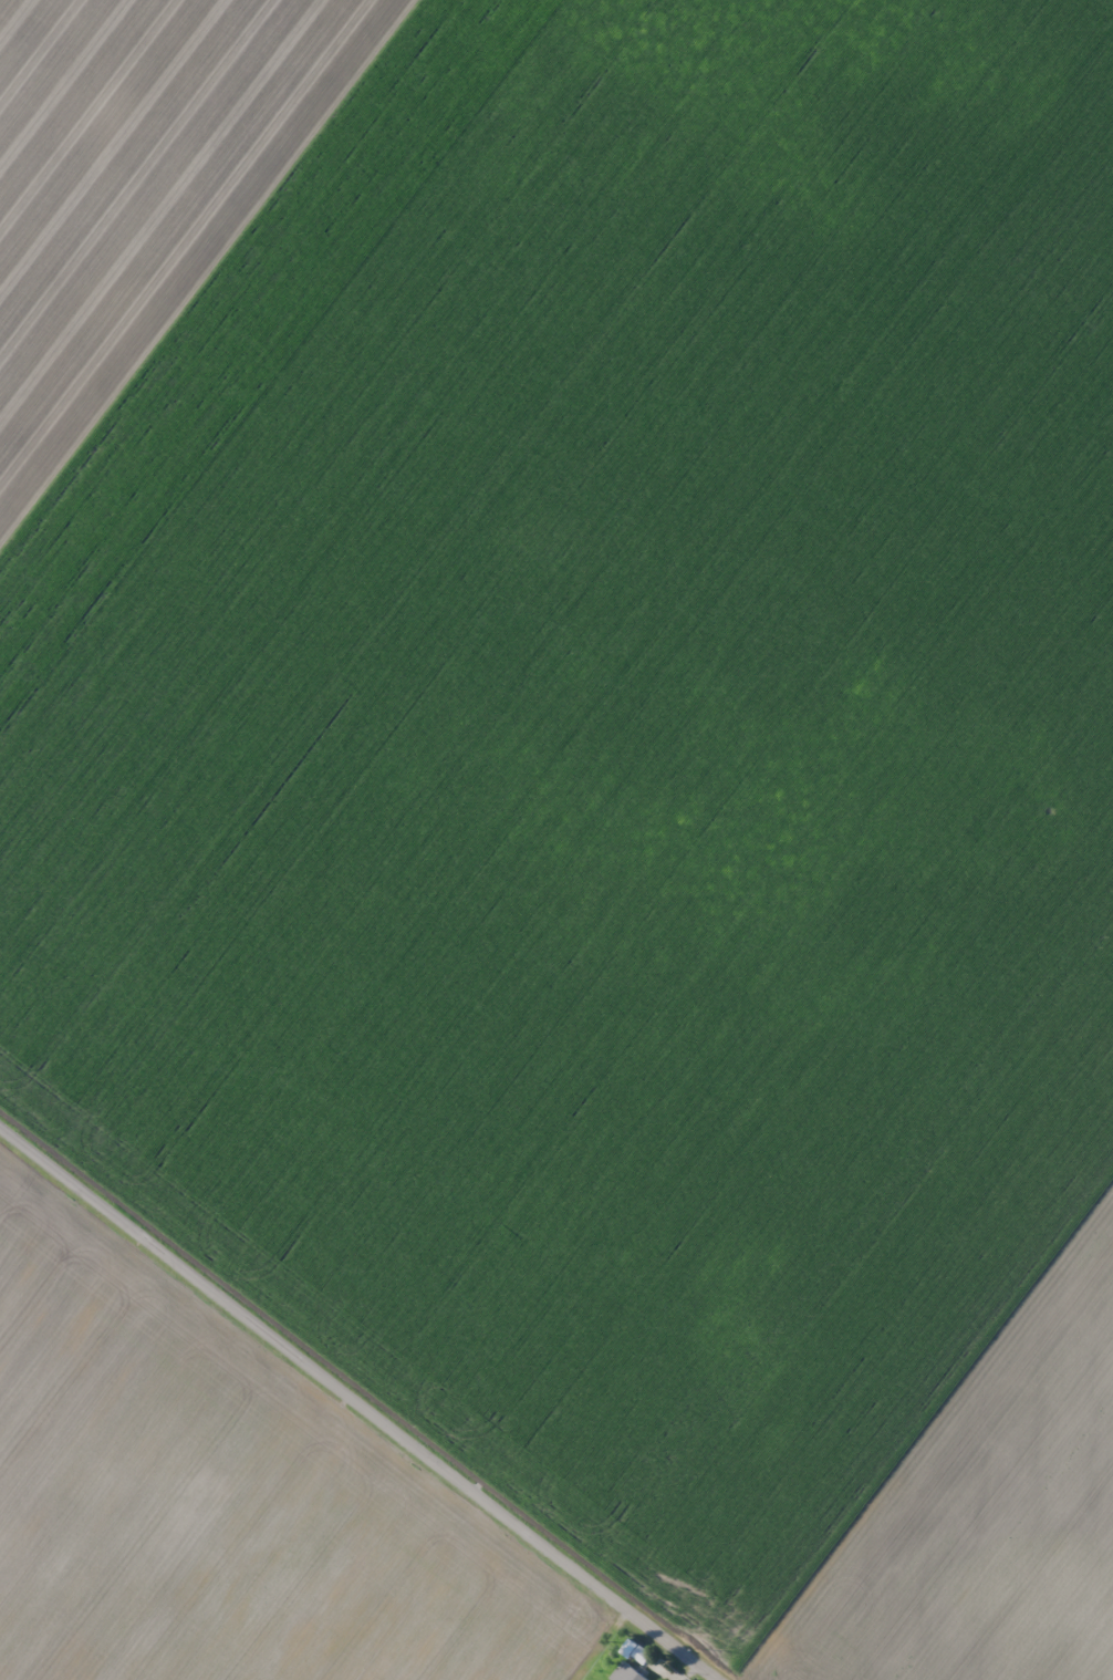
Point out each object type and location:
road: (352, 1409)
building: (636, 1651)
building: (627, 1673)

